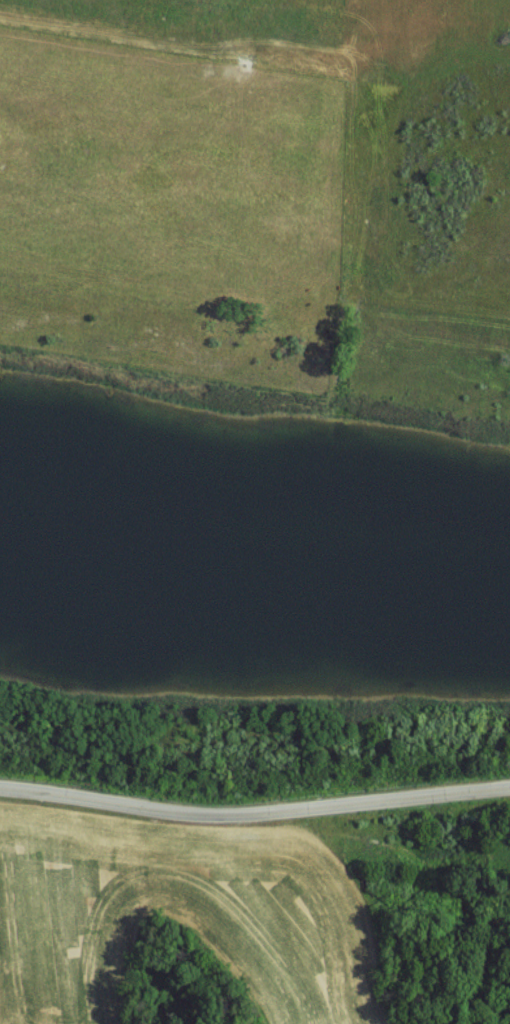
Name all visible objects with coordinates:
road: (253, 818)

